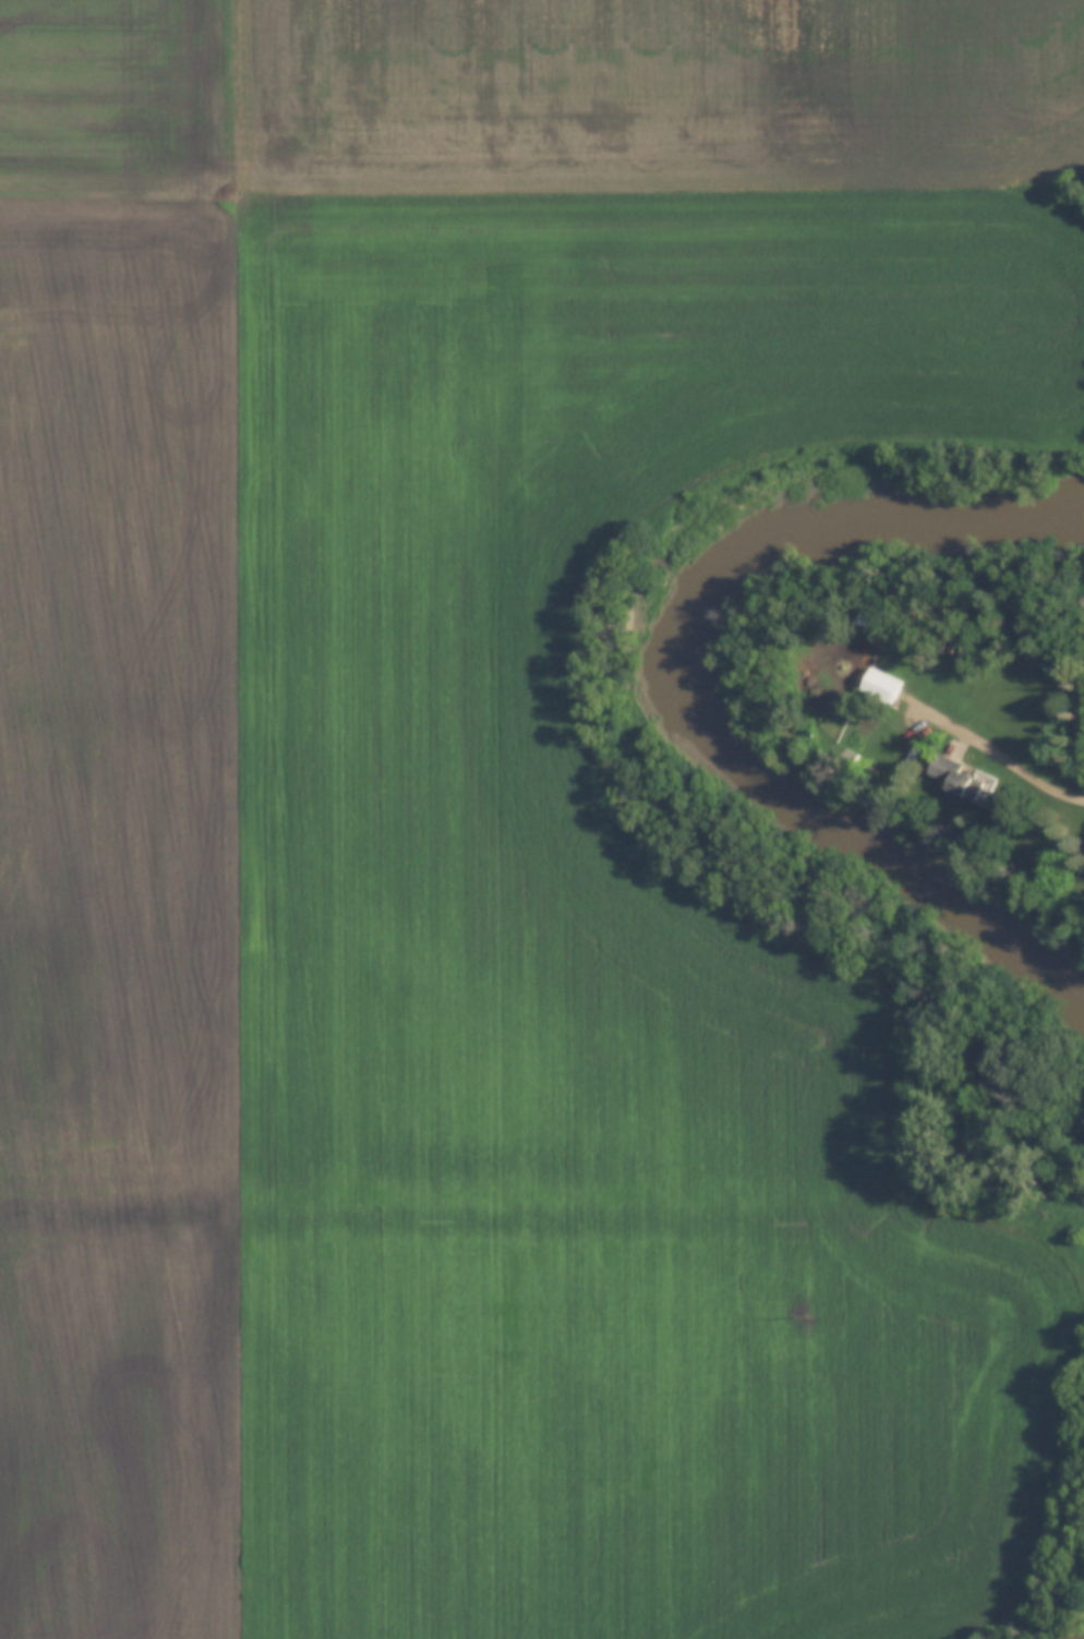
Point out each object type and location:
river: (715, 674)
building: (878, 685)
road: (1002, 754)
building: (951, 776)
building: (1081, 1118)

